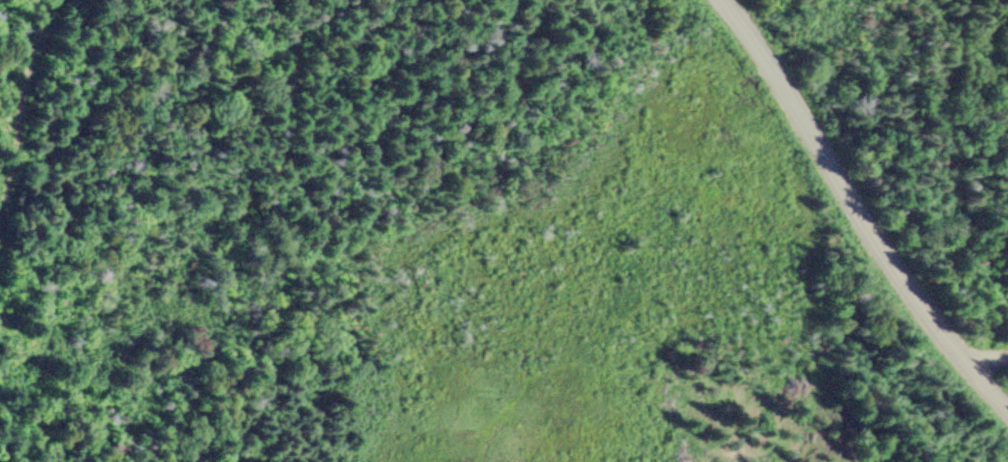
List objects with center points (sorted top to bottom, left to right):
road: (22, 89)
road: (858, 208)
road: (986, 349)

